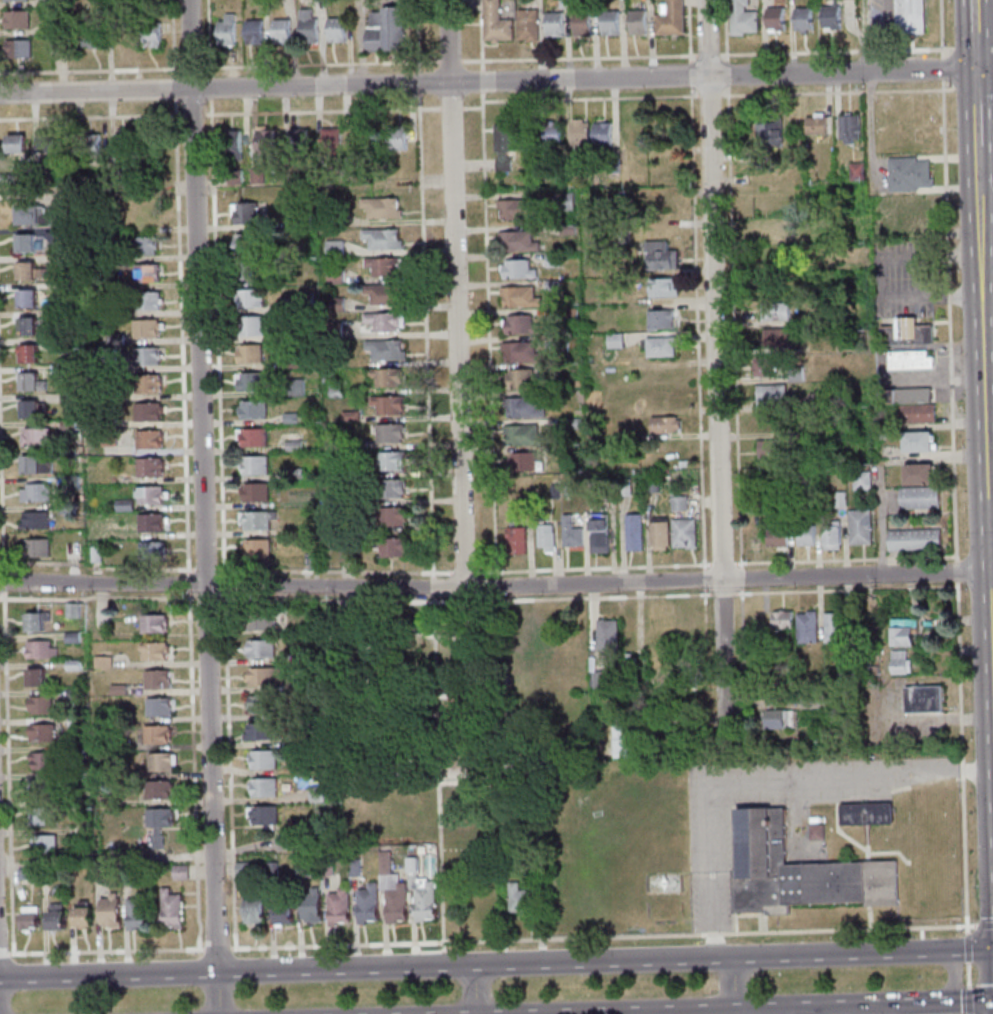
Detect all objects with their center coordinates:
building: (11, 0)
building: (55, 3)
building: (104, 3)
building: (563, 4)
building: (829, 15)
building: (908, 17)
building: (740, 18)
building: (773, 18)
building: (15, 19)
building: (669, 19)
building: (800, 19)
building: (581, 22)
building: (609, 22)
building: (636, 22)
building: (495, 23)
building: (553, 24)
building: (526, 25)
building: (55, 26)
building: (307, 27)
building: (225, 30)
building: (280, 30)
building: (335, 30)
building: (384, 30)
building: (252, 32)
building: (150, 34)
road: (974, 34)
building: (122, 35)
building: (95, 36)
road: (863, 36)
building: (57, 44)
road: (967, 46)
building: (17, 48)
traffic signals: (975, 69)
road: (496, 81)
road: (976, 106)
road: (868, 119)
building: (814, 125)
building: (847, 128)
building: (768, 132)
building: (578, 134)
building: (601, 134)
building: (550, 136)
building: (359, 137)
building: (396, 138)
building: (296, 139)
building: (263, 140)
building: (330, 141)
building: (46, 142)
building: (15, 143)
building: (231, 143)
building: (122, 144)
building: (89, 145)
building: (503, 145)
building: (758, 160)
building: (568, 162)
building: (612, 164)
building: (854, 169)
building: (34, 170)
building: (906, 174)
building: (256, 175)
building: (234, 177)
building: (5, 178)
building: (62, 201)
building: (563, 201)
building: (380, 208)
building: (515, 209)
building: (244, 213)
building: (30, 215)
building: (302, 221)
building: (909, 222)
building: (765, 227)
building: (566, 230)
building: (60, 231)
building: (883, 235)
building: (810, 237)
building: (381, 239)
building: (516, 241)
building: (26, 243)
building: (244, 243)
building: (142, 245)
building: (334, 248)
building: (659, 256)
building: (62, 258)
building: (552, 260)
building: (382, 266)
building: (517, 269)
building: (29, 271)
building: (245, 271)
building: (146, 273)
building: (334, 276)
parking lot: (903, 279)
road: (919, 279)
building: (552, 285)
building: (63, 286)
building: (662, 287)
road: (455, 293)
building: (383, 295)
building: (518, 296)
building: (26, 298)
building: (248, 298)
building: (146, 300)
building: (301, 302)
building: (126, 303)
building: (335, 304)
building: (110, 311)
building: (773, 311)
building: (60, 314)
building: (567, 316)
building: (659, 319)
building: (812, 320)
building: (382, 321)
road: (948, 321)
building: (519, 325)
building: (25, 326)
building: (250, 326)
building: (144, 328)
building: (332, 329)
building: (295, 333)
building: (904, 333)
building: (774, 338)
building: (114, 339)
building: (614, 341)
building: (559, 343)
building: (63, 344)
building: (658, 346)
building: (384, 349)
building: (519, 351)
building: (27, 353)
building: (100, 354)
building: (247, 354)
building: (145, 356)
building: (337, 356)
building: (908, 360)
building: (763, 367)
building: (65, 369)
road: (715, 371)
building: (794, 374)
building: (384, 378)
building: (520, 379)
building: (324, 380)
building: (248, 381)
building: (29, 382)
building: (146, 384)
building: (293, 387)
building: (334, 392)
building: (770, 395)
building: (909, 396)
building: (66, 397)
building: (386, 405)
building: (522, 408)
building: (27, 409)
building: (251, 410)
building: (146, 411)
building: (75, 413)
building: (912, 414)
building: (349, 416)
building: (289, 418)
building: (107, 421)
building: (572, 423)
building: (66, 424)
building: (663, 425)
building: (387, 433)
road: (985, 433)
building: (522, 435)
building: (34, 436)
building: (881, 436)
building: (252, 438)
building: (147, 439)
building: (107, 440)
building: (916, 442)
building: (357, 444)
building: (292, 445)
building: (766, 452)
building: (65, 454)
building: (390, 461)
building: (523, 462)
building: (33, 465)
building: (253, 465)
building: (148, 467)
building: (336, 469)
building: (292, 473)
building: (917, 474)
building: (860, 481)
building: (69, 482)
building: (650, 484)
building: (604, 487)
building: (622, 487)
building: (388, 488)
building: (253, 492)
building: (553, 492)
building: (33, 493)
building: (148, 495)
building: (918, 498)
building: (337, 500)
building: (838, 500)
building: (678, 503)
building: (123, 505)
road: (202, 507)
building: (65, 508)
building: (389, 516)
building: (33, 520)
building: (256, 520)
road: (990, 521)
building: (150, 522)
building: (858, 527)
building: (632, 532)
building: (569, 533)
building: (597, 533)
building: (658, 533)
building: (683, 533)
building: (776, 535)
building: (804, 535)
building: (829, 536)
building: (544, 537)
building: (514, 539)
building: (912, 540)
building: (390, 546)
building: (35, 548)
building: (255, 548)
building: (150, 551)
building: (94, 554)
building: (345, 554)
road: (843, 559)
building: (313, 561)
road: (726, 563)
road: (956, 574)
road: (431, 575)
road: (726, 580)
road: (231, 586)
road: (431, 587)
road: (222, 589)
road: (716, 594)
road: (210, 598)
road: (247, 599)
road: (523, 599)
building: (70, 610)
building: (263, 620)
building: (779, 621)
building: (33, 622)
building: (152, 623)
building: (662, 628)
building: (806, 628)
building: (833, 628)
building: (902, 632)
building: (607, 636)
building: (71, 637)
building: (258, 649)
building: (39, 650)
building: (153, 651)
building: (101, 662)
building: (900, 663)
building: (71, 665)
building: (628, 666)
building: (758, 670)
building: (862, 670)
building: (843, 672)
building: (264, 676)
building: (34, 677)
building: (155, 680)
building: (600, 680)
building: (292, 685)
building: (116, 690)
building: (73, 693)
building: (813, 700)
building: (923, 700)
building: (260, 704)
building: (39, 705)
building: (157, 707)
building: (74, 720)
building: (780, 720)
park: (452, 728)
building: (258, 732)
building: (40, 733)
building: (155, 734)
building: (836, 736)
building: (622, 738)
building: (75, 748)
building: (261, 759)
road: (961, 759)
building: (42, 760)
building: (158, 762)
road: (227, 770)
road: (762, 778)
road: (436, 781)
building: (40, 788)
building: (261, 788)
building: (157, 789)
building: (315, 794)
building: (104, 801)
building: (74, 805)
building: (865, 814)
building: (37, 815)
building: (262, 815)
building: (157, 824)
building: (76, 831)
building: (817, 832)
building: (284, 840)
building: (42, 844)
building: (421, 850)
building: (529, 855)
building: (325, 867)
building: (353, 868)
building: (242, 869)
building: (270, 869)
building: (300, 869)
building: (178, 872)
building: (798, 873)
building: (23, 874)
building: (96, 875)
building: (124, 875)
building: (43, 877)
building: (421, 889)
building: (390, 890)
building: (522, 901)
building: (365, 904)
building: (309, 906)
building: (337, 908)
building: (170, 909)
building: (252, 910)
building: (108, 911)
building: (135, 912)
building: (80, 915)
building: (281, 915)
building: (27, 918)
building: (53, 918)
road: (985, 924)
road: (601, 936)
road: (214, 948)
road: (966, 948)
road: (968, 949)
road: (101, 950)
road: (472, 966)
road: (967, 975)
road: (952, 977)
road: (733, 985)
road: (473, 990)
road: (968, 1001)
road: (981, 1001)
road: (956, 1002)
road: (763, 1008)
road: (717, 1012)
road: (619, 1013)

